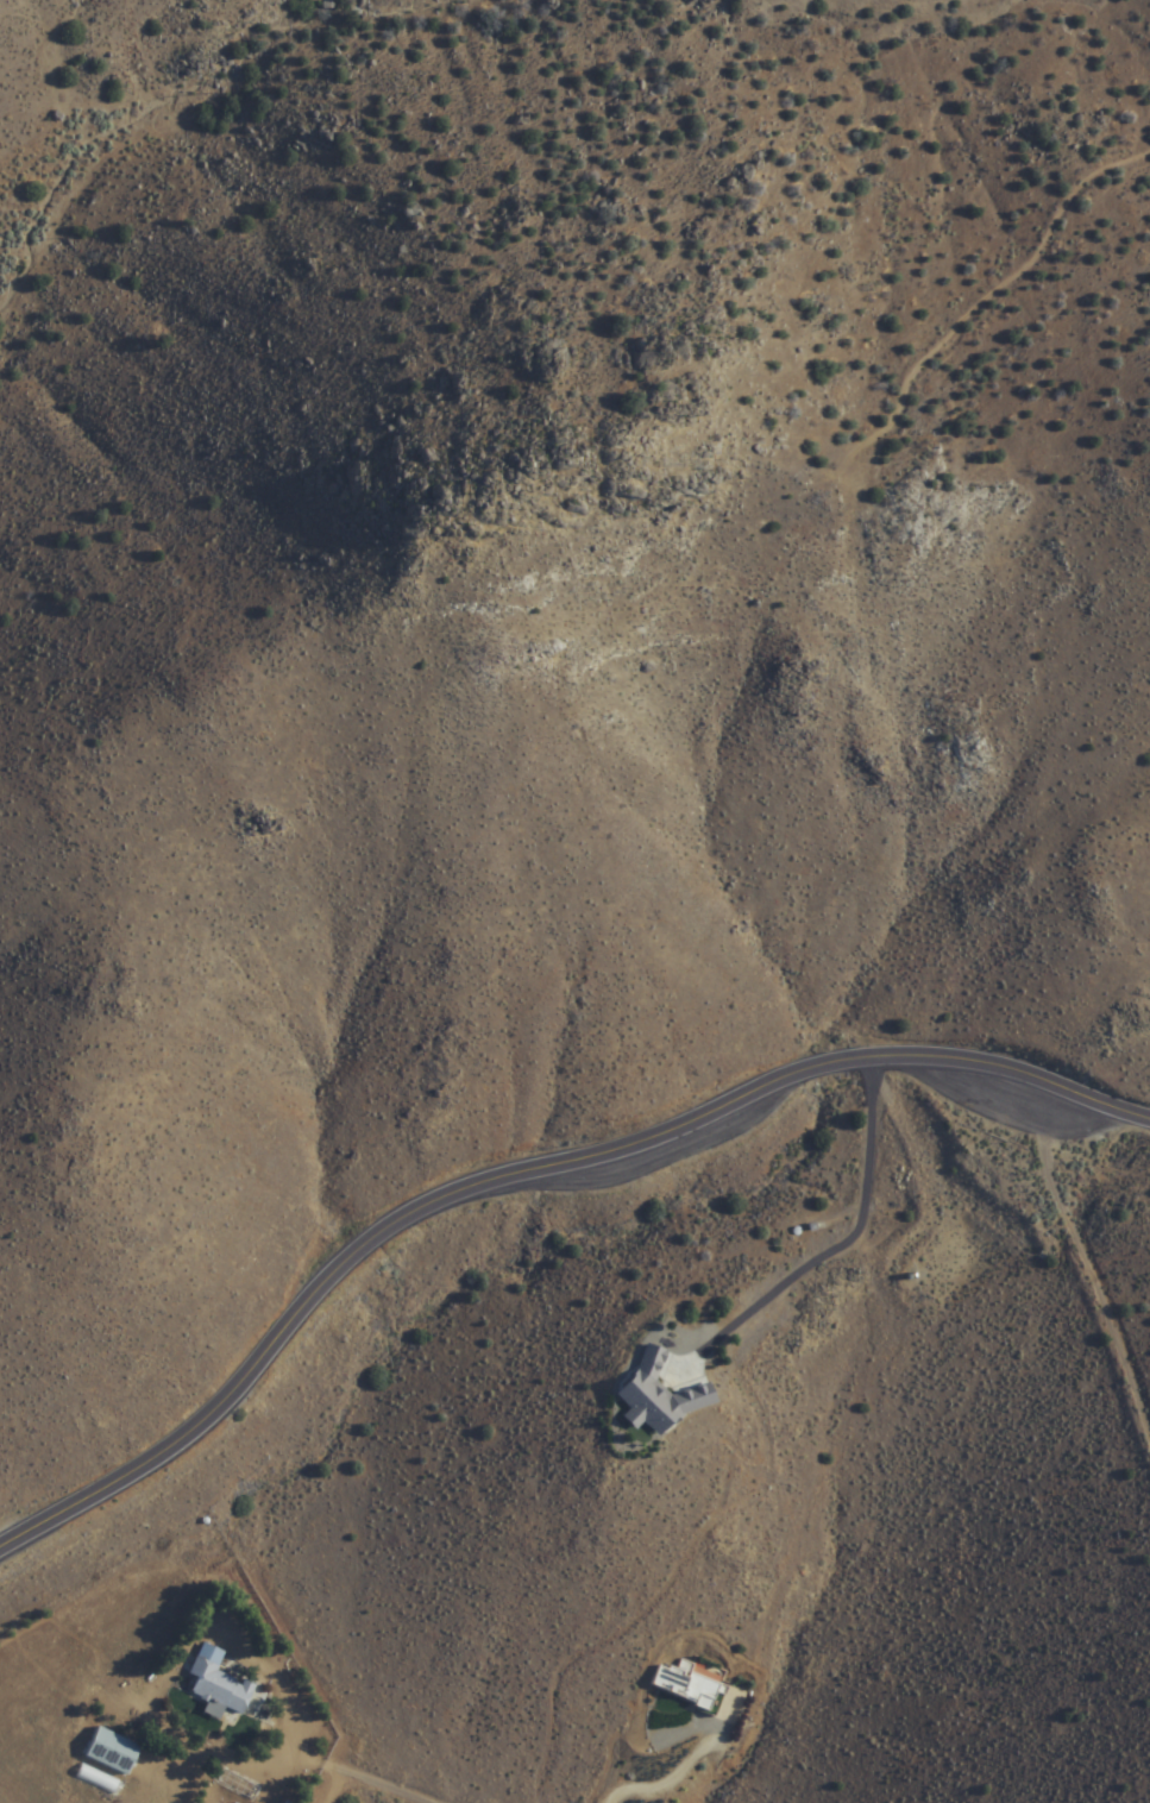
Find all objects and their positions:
road: (519, 1174)
building: (659, 1396)
road: (7, 1544)
building: (687, 1684)
building: (225, 1689)
building: (113, 1751)

